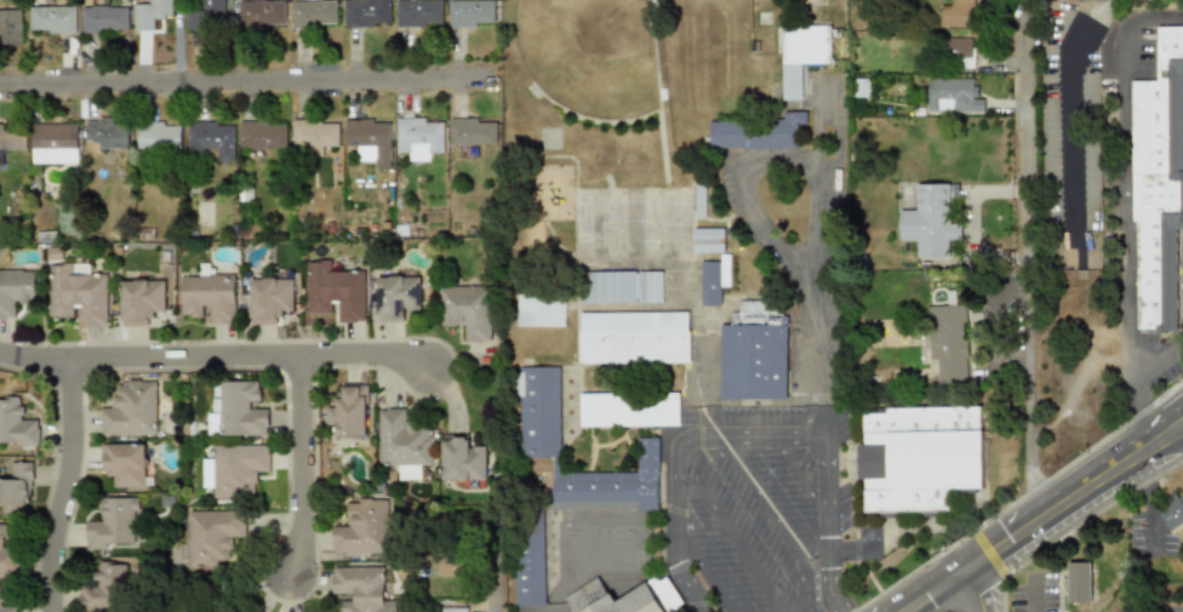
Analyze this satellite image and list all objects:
building: (419, 12)
building: (153, 13)
building: (315, 13)
building: (368, 13)
building: (473, 13)
building: (954, 13)
building: (211, 15)
building: (263, 15)
building: (53, 19)
building: (107, 19)
building: (11, 27)
building: (955, 46)
building: (800, 55)
building: (950, 95)
road: (252, 99)
road: (1071, 119)
road: (817, 125)
building: (473, 131)
building: (755, 132)
building: (109, 135)
building: (160, 135)
building: (264, 135)
building: (314, 136)
building: (368, 136)
building: (12, 137)
building: (421, 137)
building: (215, 138)
building: (52, 144)
building: (1, 156)
building: (1158, 182)
road: (822, 190)
road: (1124, 210)
building: (935, 235)
road: (764, 238)
building: (707, 240)
road: (1025, 265)
building: (714, 279)
building: (622, 286)
building: (15, 288)
building: (336, 291)
building: (79, 292)
building: (208, 294)
building: (398, 297)
building: (270, 298)
building: (141, 302)
building: (467, 310)
building: (541, 310)
building: (634, 338)
building: (947, 342)
road: (1156, 350)
building: (754, 351)
road: (362, 354)
road: (148, 355)
road: (819, 370)
building: (131, 407)
building: (629, 410)
building: (236, 411)
building: (350, 411)
road: (1171, 417)
building: (16, 423)
road: (1173, 434)
road: (751, 437)
building: (404, 440)
building: (538, 447)
building: (919, 457)
building: (463, 461)
building: (125, 463)
road: (299, 463)
building: (238, 469)
road: (800, 475)
road: (63, 485)
building: (15, 486)
road: (758, 494)
road: (1150, 505)
building: (1172, 511)
road: (1031, 522)
building: (114, 524)
building: (361, 527)
building: (208, 536)
road: (726, 536)
road: (813, 549)
building: (7, 554)
building: (530, 560)
road: (704, 567)
road: (508, 568)
road: (799, 582)
building: (1079, 582)
building: (104, 588)
building: (362, 589)
road: (976, 589)
road: (1036, 593)
building: (202, 594)
building: (1, 595)
building: (621, 596)
building: (456, 610)

